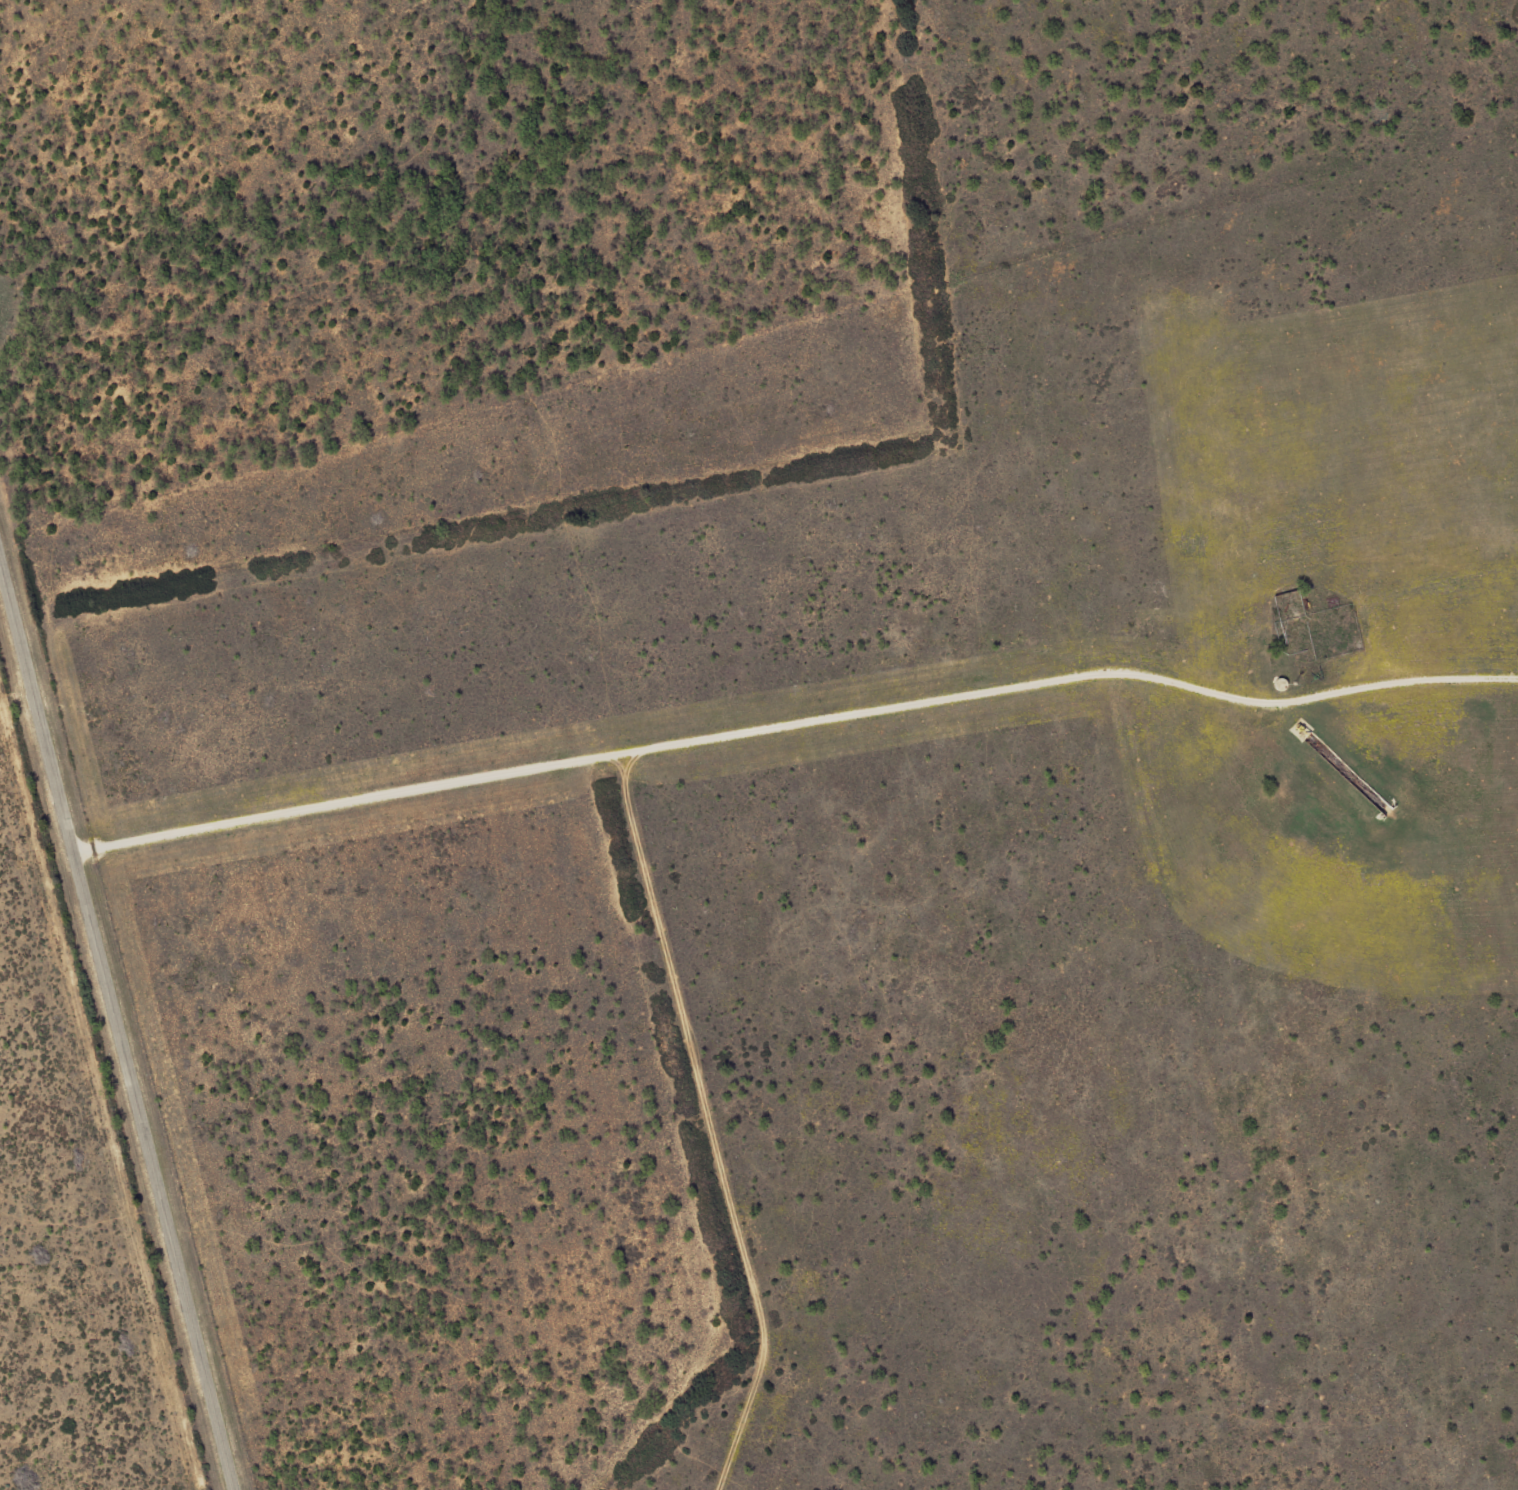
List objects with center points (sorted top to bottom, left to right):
building: (1281, 685)
road: (794, 723)
building: (1303, 730)
road: (114, 1026)

